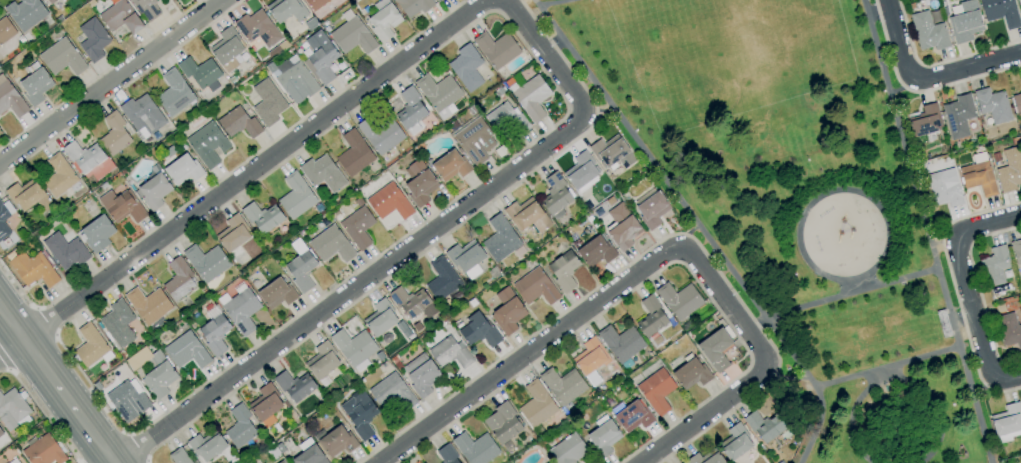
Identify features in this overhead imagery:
building: (437, 0)
park: (543, 0)
building: (49, 1)
road: (553, 3)
building: (314, 4)
building: (412, 7)
building: (1019, 7)
building: (286, 10)
building: (999, 12)
building: (25, 13)
road: (878, 13)
building: (118, 17)
building: (382, 20)
building: (963, 21)
building: (258, 28)
building: (5, 30)
building: (927, 32)
building: (352, 36)
building: (92, 39)
road: (897, 42)
park: (719, 43)
building: (225, 47)
road: (552, 47)
building: (496, 49)
building: (320, 56)
building: (61, 57)
road: (547, 57)
building: (465, 67)
road: (967, 70)
building: (200, 73)
road: (111, 83)
building: (35, 85)
road: (901, 86)
building: (173, 93)
building: (438, 94)
building: (531, 98)
building: (10, 99)
building: (267, 102)
building: (1016, 103)
building: (992, 105)
building: (410, 110)
road: (600, 110)
building: (142, 115)
building: (957, 116)
building: (505, 119)
building: (925, 121)
building: (238, 123)
building: (113, 134)
building: (380, 135)
building: (475, 140)
building: (207, 144)
building: (612, 152)
building: (353, 153)
building: (449, 165)
building: (182, 169)
building: (1009, 170)
building: (580, 171)
building: (321, 173)
building: (58, 176)
road: (243, 176)
building: (978, 178)
building: (418, 182)
building: (943, 188)
building: (152, 191)
building: (27, 195)
building: (295, 196)
building: (555, 196)
building: (388, 202)
building: (121, 206)
park: (799, 206)
building: (655, 213)
building: (526, 215)
building: (262, 217)
road: (986, 225)
building: (5, 226)
road: (696, 226)
building: (357, 227)
road: (683, 231)
road: (926, 231)
building: (96, 233)
building: (233, 234)
building: (625, 236)
road: (798, 238)
building: (499, 239)
road: (941, 243)
building: (330, 244)
building: (64, 251)
building: (595, 251)
building: (1016, 251)
building: (466, 259)
building: (205, 262)
building: (994, 266)
building: (32, 269)
building: (300, 269)
building: (563, 270)
building: (441, 279)
building: (178, 280)
road: (861, 285)
building: (534, 287)
road: (353, 288)
building: (275, 293)
road: (841, 297)
building: (678, 300)
building: (412, 303)
building: (148, 304)
road: (592, 307)
building: (240, 311)
building: (506, 311)
building: (650, 317)
building: (379, 318)
road: (962, 320)
building: (117, 324)
road: (974, 324)
building: (477, 330)
building: (1008, 330)
building: (214, 334)
building: (620, 343)
building: (89, 345)
building: (352, 346)
building: (714, 349)
building: (186, 351)
building: (449, 352)
building: (590, 358)
building: (321, 361)
road: (886, 368)
building: (690, 373)
building: (420, 374)
road: (794, 376)
road: (883, 376)
building: (158, 379)
road: (896, 382)
road: (57, 383)
building: (562, 385)
building: (294, 386)
road: (981, 388)
building: (655, 391)
building: (391, 392)
building: (127, 400)
building: (265, 404)
building: (536, 404)
building: (12, 409)
building: (358, 413)
road: (708, 413)
building: (632, 416)
building: (1007, 422)
building: (502, 423)
building: (763, 426)
building: (239, 427)
building: (0, 434)
building: (603, 437)
building: (336, 441)
building: (734, 442)
building: (206, 446)
building: (475, 448)
building: (567, 449)
building: (43, 451)
building: (446, 454)
building: (178, 456)
building: (308, 456)
building: (705, 458)
building: (14, 461)
building: (281, 461)
building: (550, 462)

